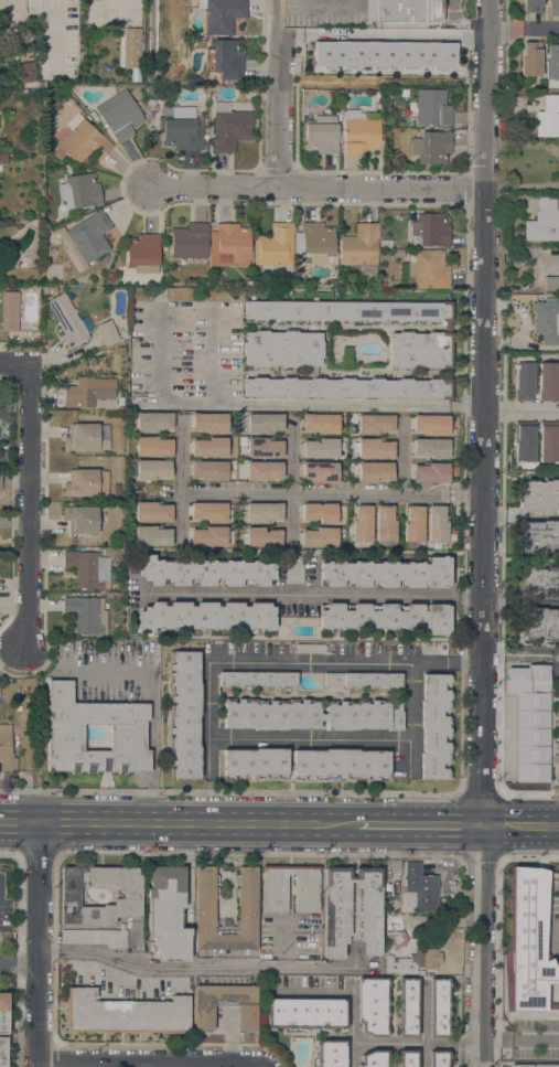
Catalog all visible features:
building: (12, 6)
building: (531, 6)
building: (552, 7)
building: (406, 13)
building: (222, 14)
road: (524, 28)
road: (381, 34)
building: (130, 50)
building: (225, 58)
building: (530, 58)
building: (551, 62)
building: (319, 67)
building: (26, 71)
road: (277, 93)
building: (150, 104)
building: (430, 107)
building: (119, 117)
building: (548, 117)
building: (232, 124)
building: (181, 127)
building: (359, 132)
building: (322, 135)
building: (83, 140)
building: (431, 147)
building: (57, 153)
building: (3, 159)
road: (319, 185)
building: (79, 191)
building: (29, 210)
building: (544, 221)
building: (431, 228)
building: (86, 237)
building: (190, 241)
building: (314, 242)
building: (385, 243)
building: (229, 245)
building: (275, 245)
building: (359, 248)
building: (143, 253)
building: (398, 253)
building: (426, 269)
building: (109, 277)
building: (216, 279)
building: (342, 279)
building: (551, 282)
building: (383, 285)
building: (50, 289)
building: (10, 311)
building: (69, 320)
building: (546, 321)
building: (107, 332)
road: (522, 342)
building: (283, 350)
road: (215, 354)
building: (93, 360)
road: (15, 366)
building: (524, 378)
building: (547, 381)
road: (465, 384)
building: (88, 391)
road: (275, 403)
road: (522, 414)
road: (483, 415)
building: (153, 422)
building: (208, 422)
building: (260, 423)
building: (320, 423)
building: (375, 424)
building: (431, 424)
building: (84, 438)
building: (549, 441)
building: (524, 444)
building: (152, 446)
building: (208, 447)
building: (264, 447)
building: (320, 448)
building: (373, 448)
building: (431, 448)
road: (402, 455)
building: (152, 469)
building: (208, 470)
building: (262, 470)
building: (374, 470)
building: (320, 471)
building: (430, 472)
road: (181, 481)
road: (291, 481)
building: (0, 482)
building: (86, 483)
building: (116, 490)
road: (332, 492)
building: (538, 494)
road: (30, 508)
building: (208, 511)
building: (152, 512)
building: (260, 512)
building: (319, 512)
road: (520, 514)
building: (82, 519)
building: (362, 523)
building: (385, 523)
building: (437, 523)
building: (413, 524)
building: (152, 535)
building: (208, 536)
building: (260, 536)
building: (538, 536)
building: (319, 537)
building: (111, 551)
building: (87, 569)
building: (205, 572)
building: (386, 573)
building: (538, 583)
road: (309, 595)
road: (519, 602)
building: (86, 613)
building: (205, 615)
building: (386, 616)
building: (538, 623)
building: (310, 648)
road: (558, 660)
road: (291, 663)
building: (257, 680)
building: (363, 680)
road: (151, 709)
building: (183, 714)
building: (311, 714)
road: (410, 719)
building: (434, 726)
building: (522, 729)
building: (64, 736)
building: (557, 736)
road: (310, 740)
building: (6, 750)
building: (527, 760)
building: (254, 762)
building: (341, 764)
road: (21, 821)
road: (198, 823)
road: (417, 829)
road: (518, 829)
road: (479, 855)
building: (416, 886)
building: (69, 892)
road: (41, 893)
building: (273, 893)
road: (479, 904)
building: (247, 908)
building: (351, 909)
building: (168, 913)
building: (553, 918)
road: (449, 926)
building: (395, 930)
building: (97, 937)
building: (533, 937)
parking lot: (7, 948)
road: (19, 952)
building: (555, 960)
building: (416, 961)
road: (196, 964)
road: (20, 965)
building: (527, 977)
road: (479, 996)
building: (549, 997)
building: (373, 1005)
building: (407, 1006)
building: (439, 1006)
building: (3, 1013)
building: (305, 1013)
building: (125, 1014)
road: (40, 1015)
building: (204, 1015)
road: (518, 1037)
road: (417, 1043)
building: (3, 1050)
building: (330, 1053)
building: (374, 1058)
building: (407, 1058)
building: (438, 1058)
road: (137, 1064)
building: (519, 1065)
building: (545, 1065)

